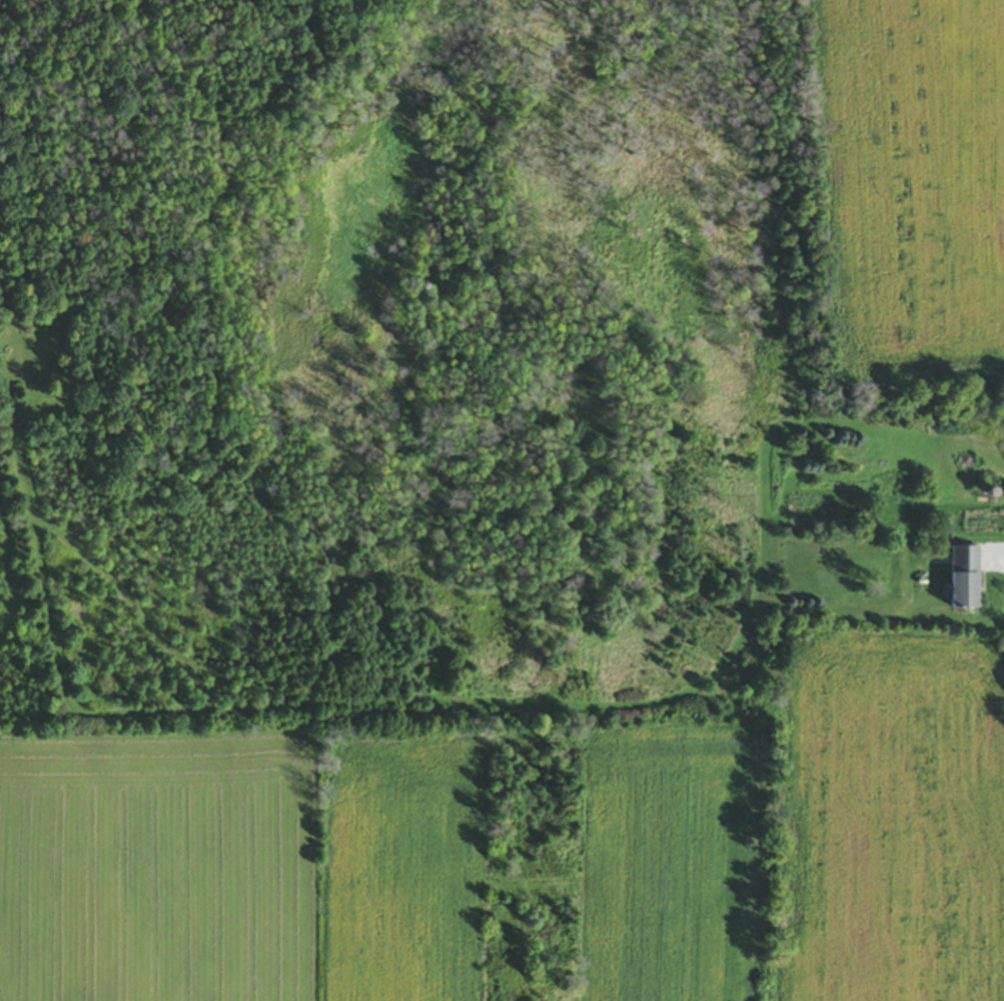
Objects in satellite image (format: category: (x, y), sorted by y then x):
road: (1001, 560)
building: (965, 579)

